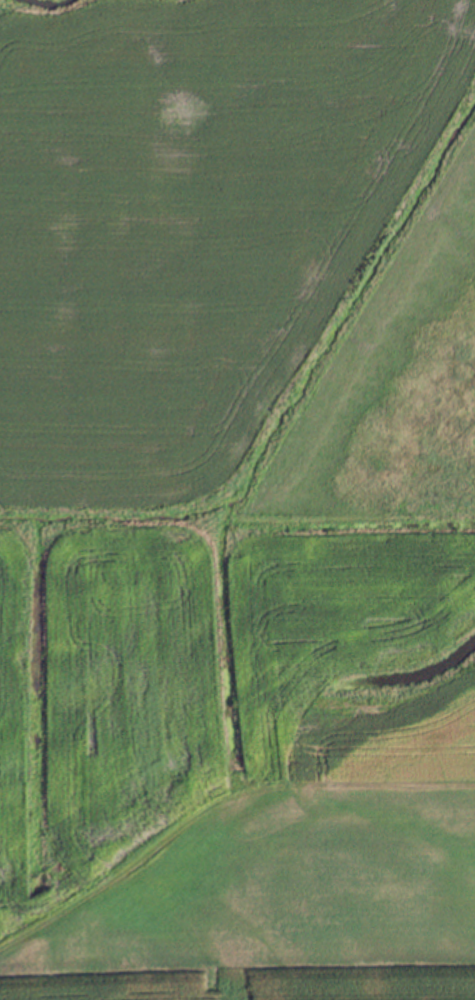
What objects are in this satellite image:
river: (4, 2)
river: (44, 7)

